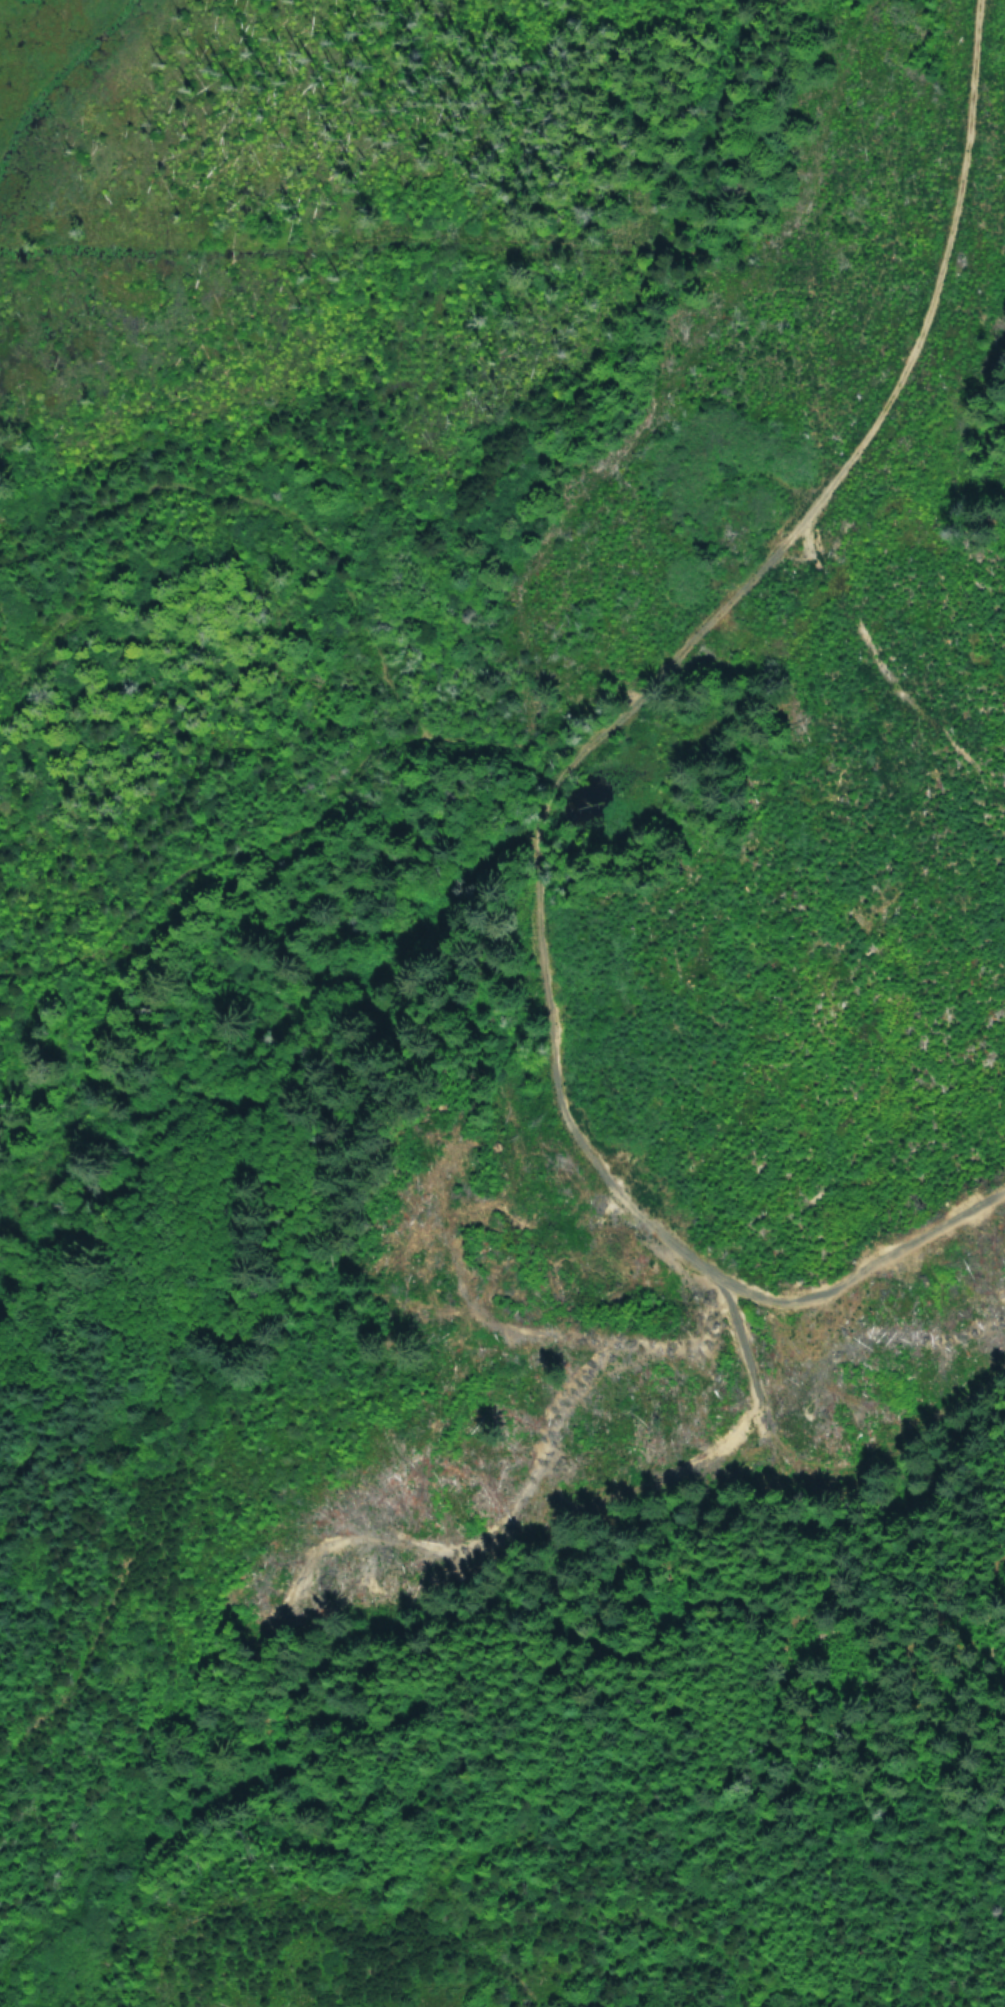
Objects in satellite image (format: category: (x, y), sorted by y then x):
road: (838, 468)
road: (530, 899)

